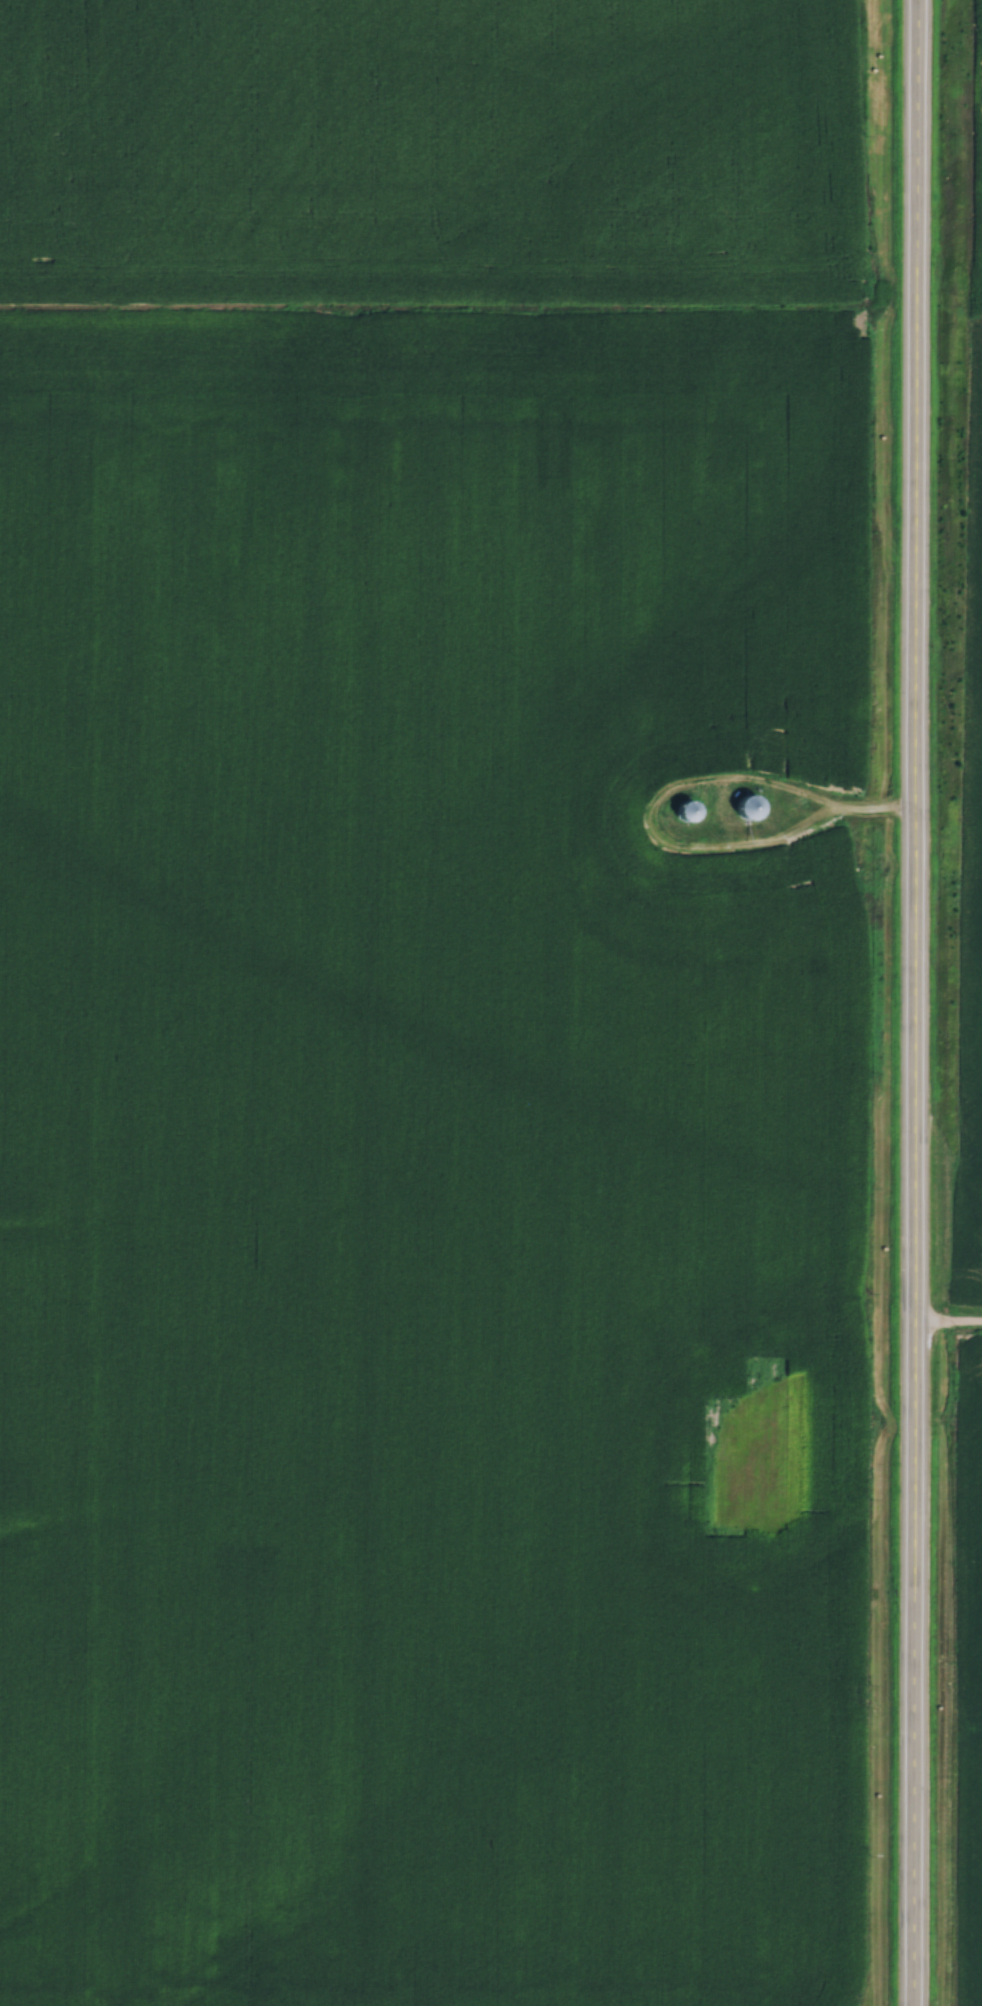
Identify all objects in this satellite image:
road: (917, 1003)
road: (949, 1324)

